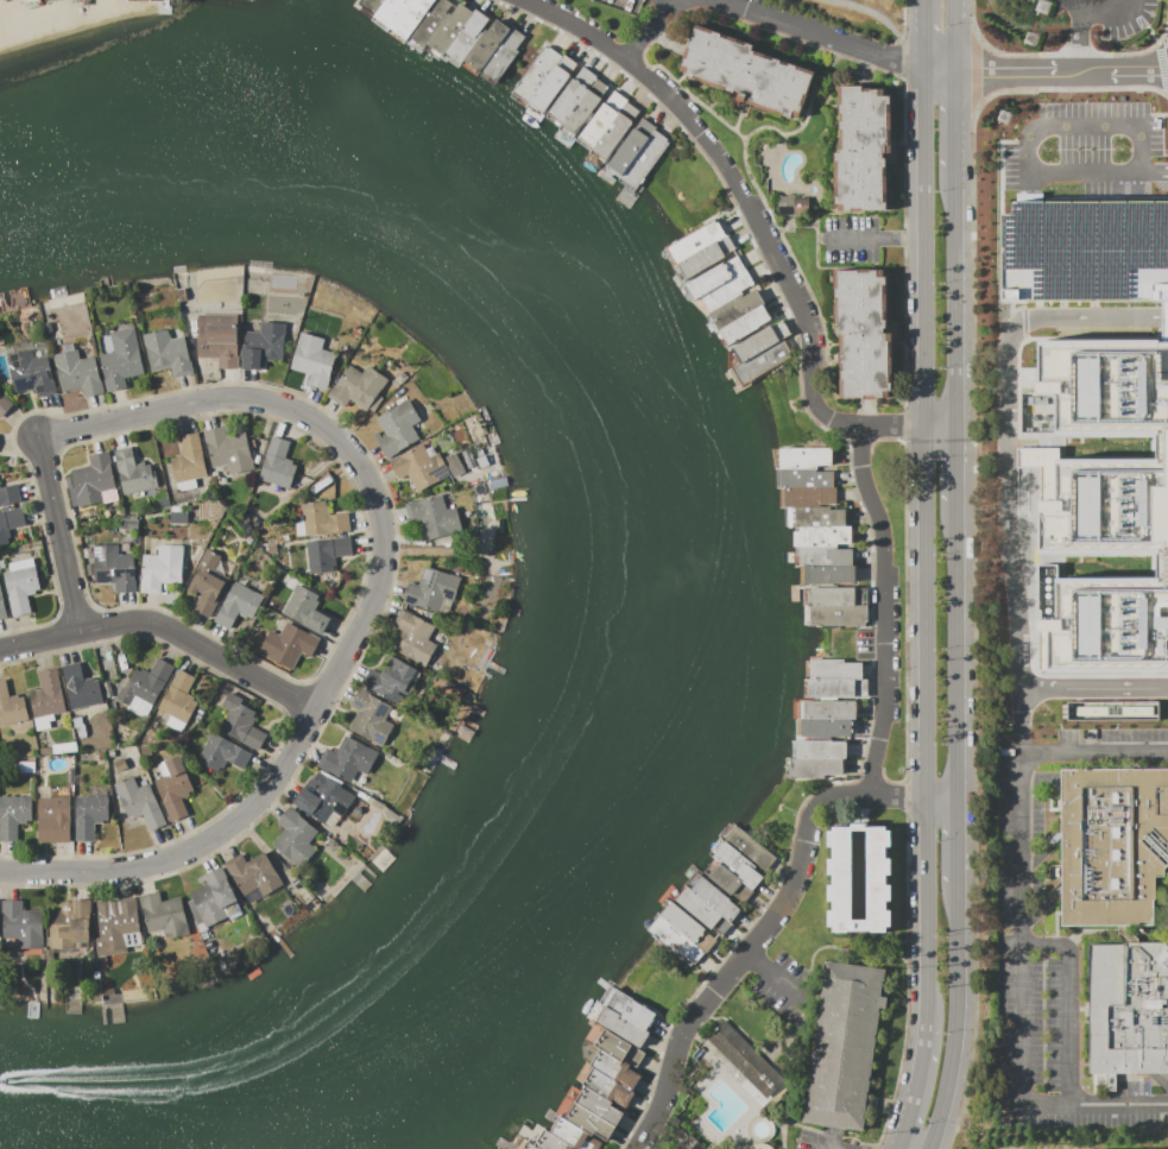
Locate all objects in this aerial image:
parking lot: (1029, 0)
building: (1123, 4)
building: (371, 5)
road: (1118, 5)
power tower: (1040, 6)
building: (402, 13)
road: (1096, 13)
parking lot: (1105, 17)
road: (902, 19)
building: (431, 21)
road: (886, 24)
road: (648, 26)
building: (449, 29)
road: (658, 32)
building: (466, 36)
road: (827, 36)
road: (926, 37)
road: (954, 37)
road: (1075, 37)
power tower: (1029, 39)
road: (665, 42)
road: (1154, 44)
building: (482, 46)
road: (985, 48)
road: (642, 53)
building: (503, 55)
road: (1073, 55)
road: (902, 59)
road: (1160, 64)
building: (744, 72)
road: (976, 72)
building: (536, 74)
road: (1047, 74)
building: (549, 89)
building: (567, 100)
building: (581, 111)
road: (739, 115)
road: (902, 116)
power tower: (1002, 116)
road: (955, 120)
building: (596, 122)
road: (1029, 132)
building: (611, 134)
road: (787, 134)
road: (781, 145)
building: (860, 149)
building: (625, 151)
building: (643, 159)
road: (1153, 171)
building: (790, 204)
road: (772, 223)
building: (693, 240)
road: (879, 240)
building: (1085, 251)
parking garage: (1085, 251)
building: (703, 257)
road: (763, 266)
building: (714, 277)
building: (725, 291)
road: (955, 297)
building: (734, 307)
building: (744, 323)
building: (860, 334)
building: (217, 339)
building: (759, 340)
building: (261, 345)
building: (166, 353)
building: (120, 359)
building: (311, 359)
building: (760, 361)
building: (31, 371)
building: (77, 372)
building: (356, 386)
building: (4, 404)
road: (904, 417)
building: (397, 428)
road: (907, 428)
road: (903, 436)
building: (227, 449)
road: (858, 449)
building: (803, 457)
building: (188, 459)
building: (277, 462)
building: (453, 463)
road: (1005, 463)
road: (955, 465)
building: (417, 467)
building: (132, 472)
building: (803, 478)
building: (91, 479)
building: (10, 495)
building: (808, 497)
building: (1100, 503)
building: (433, 516)
building: (815, 517)
building: (10, 520)
building: (318, 520)
road: (972, 531)
road: (58, 536)
building: (822, 545)
road: (880, 547)
building: (326, 553)
road: (927, 554)
building: (113, 568)
building: (160, 568)
building: (827, 574)
building: (206, 583)
building: (20, 585)
building: (430, 589)
park: (899, 594)
building: (829, 596)
building: (236, 605)
road: (904, 605)
building: (1, 607)
building: (303, 610)
road: (367, 610)
building: (835, 615)
road: (165, 627)
building: (412, 637)
road: (871, 643)
building: (288, 644)
road: (957, 649)
building: (833, 669)
building: (391, 680)
building: (836, 687)
road: (1097, 687)
building: (81, 688)
building: (143, 688)
building: (46, 694)
building: (178, 697)
building: (11, 706)
building: (828, 709)
building: (1112, 711)
building: (370, 716)
building: (240, 722)
building: (823, 727)
building: (819, 749)
building: (221, 753)
building: (347, 759)
building: (813, 768)
road: (870, 770)
building: (172, 787)
road: (905, 796)
road: (913, 796)
building: (323, 798)
building: (139, 802)
building: (89, 815)
building: (13, 816)
building: (52, 820)
building: (293, 838)
road: (958, 838)
building: (1111, 844)
building: (750, 848)
road: (1022, 856)
building: (737, 865)
building: (252, 875)
building: (858, 878)
building: (724, 879)
building: (213, 897)
building: (715, 899)
road: (764, 903)
building: (697, 908)
building: (164, 915)
building: (682, 922)
building: (21, 924)
building: (69, 924)
building: (116, 924)
building: (674, 940)
road: (852, 948)
road: (899, 957)
parking lot: (1033, 977)
road: (774, 978)
road: (905, 981)
road: (1068, 1003)
building: (1126, 1008)
building: (621, 1016)
road: (957, 1016)
building: (842, 1046)
building: (619, 1047)
building: (740, 1059)
building: (615, 1069)
building: (608, 1087)
road: (916, 1092)
road: (1094, 1104)
parking lot: (1123, 1104)
building: (598, 1105)
building: (588, 1122)
building: (573, 1135)
building: (550, 1142)
building: (689, 1143)
building: (524, 1144)
road: (878, 1145)

